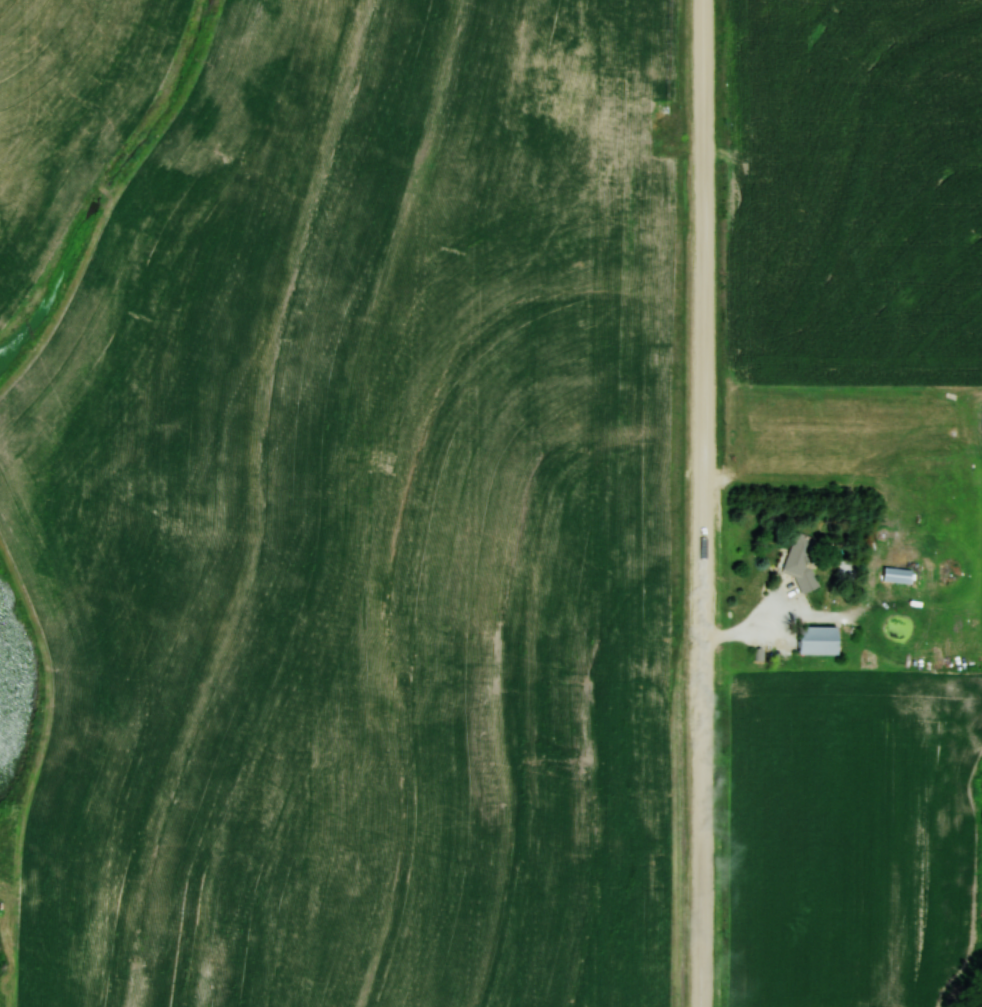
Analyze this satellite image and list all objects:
building: (628, 95)
building: (654, 183)
road: (704, 503)
building: (800, 559)
building: (898, 575)
road: (760, 635)
building: (818, 641)

